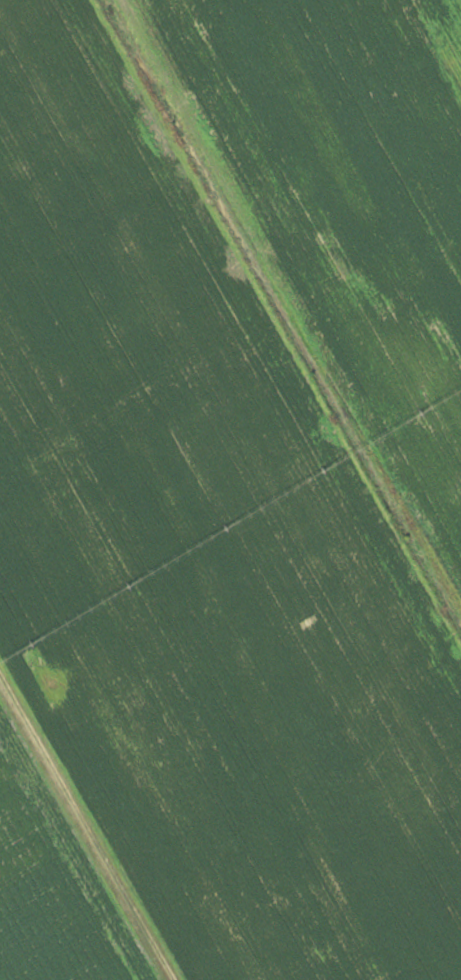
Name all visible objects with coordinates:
road: (86, 830)

